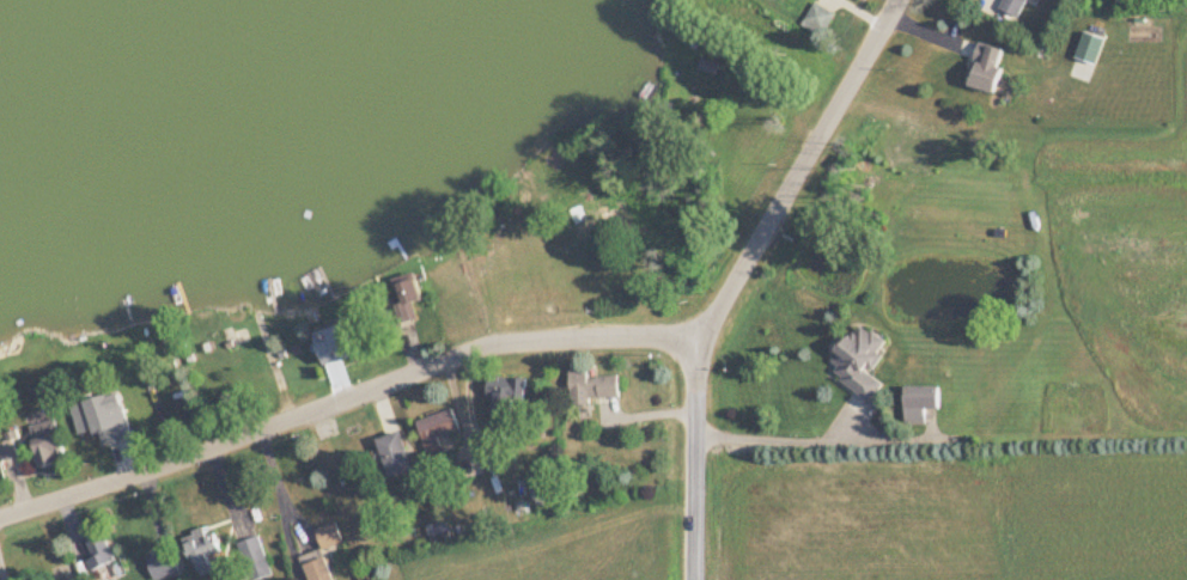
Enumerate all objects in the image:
building: (1015, 6)
building: (818, 18)
building: (988, 66)
building: (593, 216)
building: (408, 300)
road: (531, 341)
building: (339, 342)
building: (860, 359)
building: (593, 385)
building: (507, 398)
building: (133, 402)
building: (920, 402)
building: (98, 419)
building: (439, 428)
road: (777, 436)
building: (49, 442)
building: (10, 446)
building: (396, 453)
road: (698, 460)
building: (543, 482)
building: (439, 531)
building: (202, 549)
building: (99, 550)
building: (323, 552)
building: (255, 557)
building: (163, 564)
road: (4, 568)

